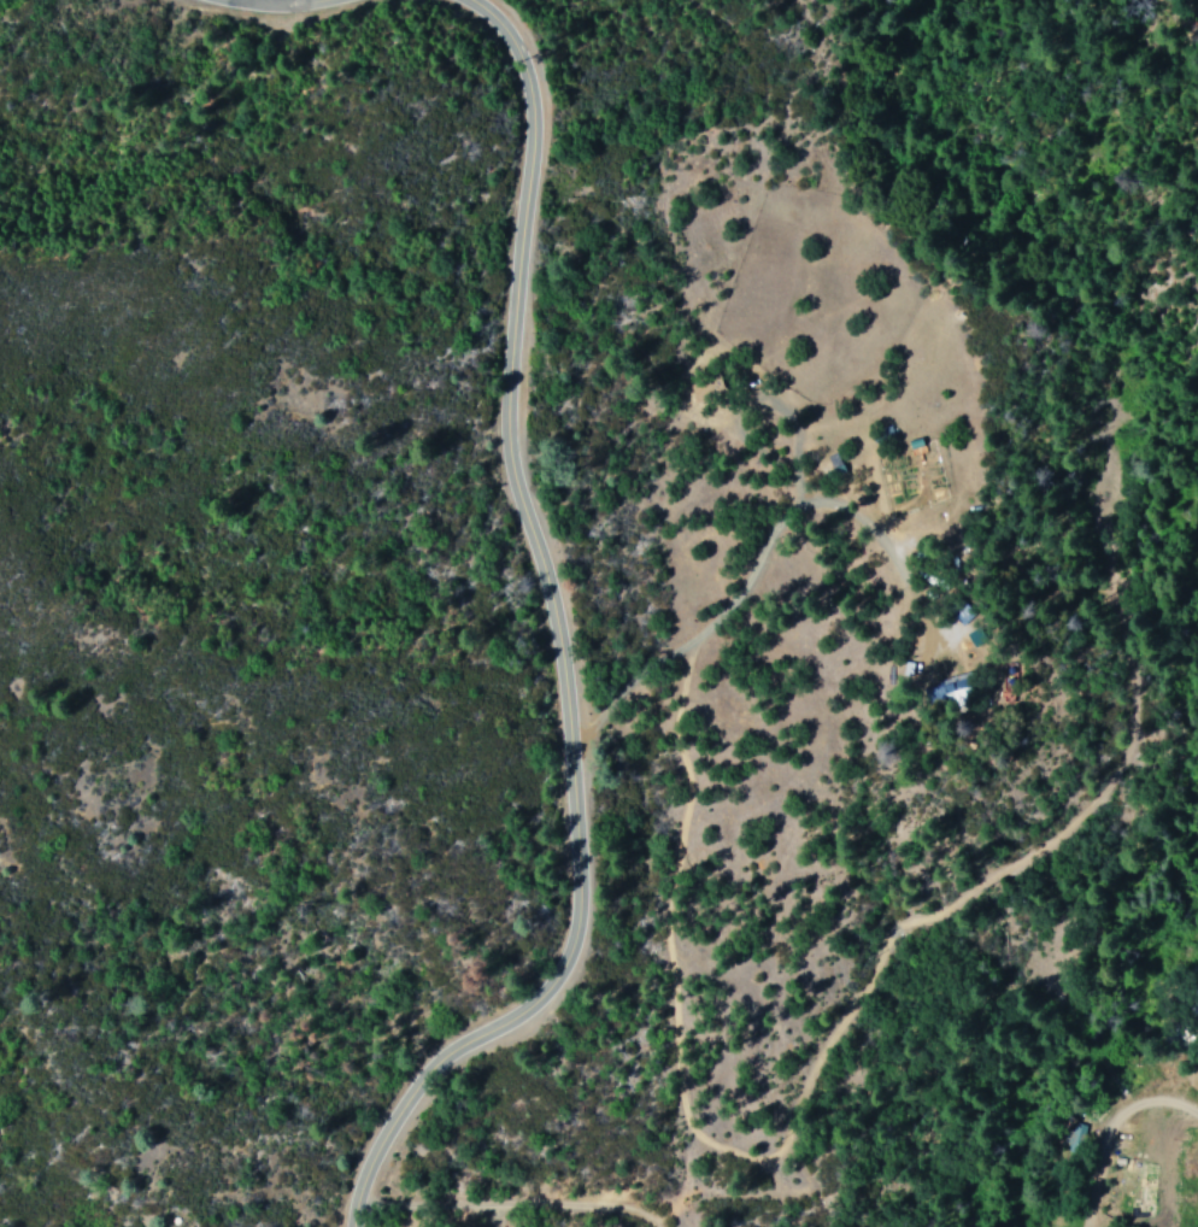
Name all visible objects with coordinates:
road: (270, 2)
road: (554, 628)
road: (628, 688)
building: (952, 688)
road: (641, 932)
building: (1075, 1137)
road: (1097, 1166)
road: (463, 1185)
road: (353, 1214)

